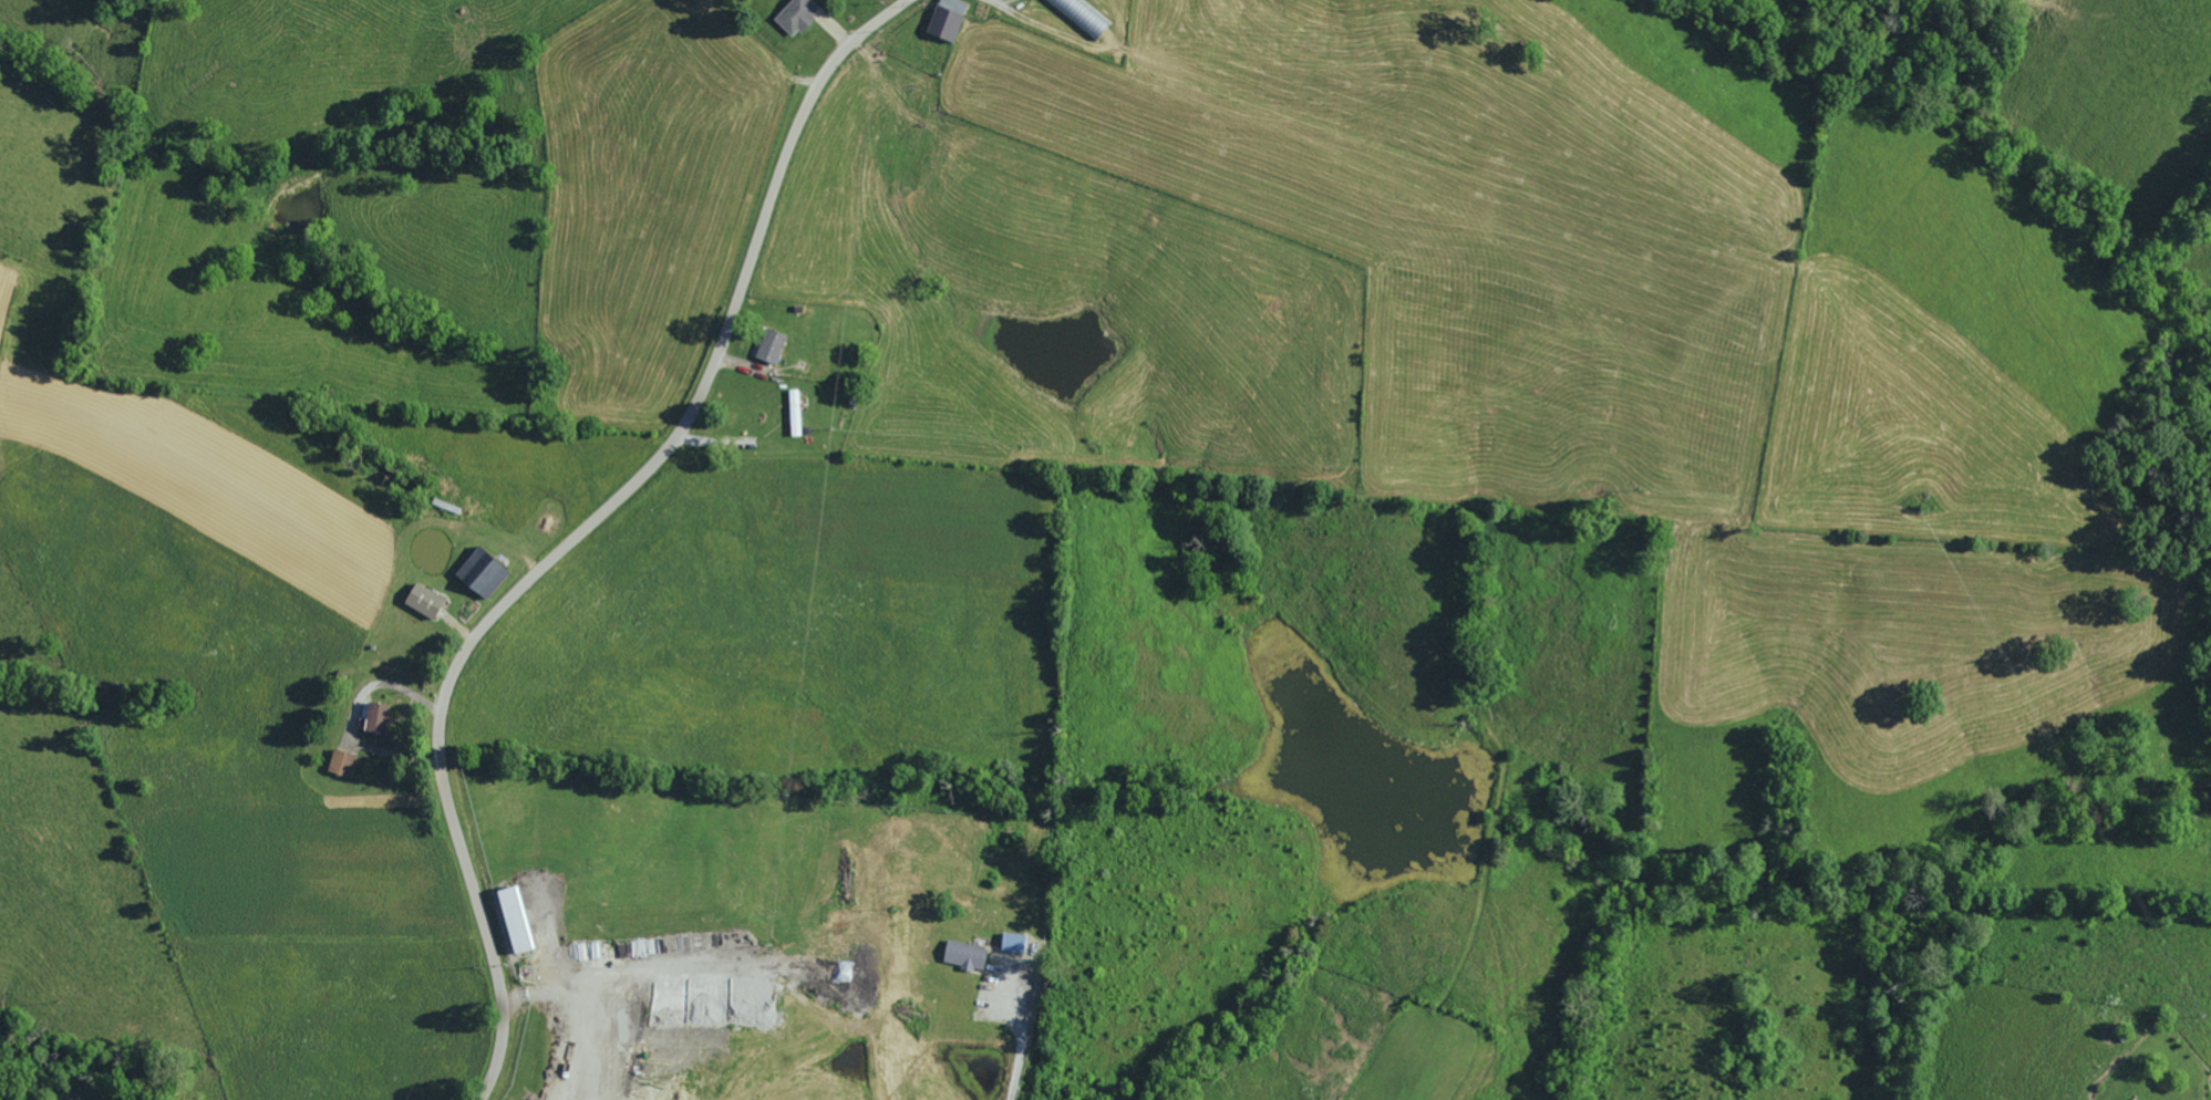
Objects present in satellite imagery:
building: (793, 14)
building: (950, 19)
road: (835, 28)
building: (768, 345)
building: (794, 412)
road: (561, 532)
building: (484, 565)
building: (430, 600)
road: (455, 620)
road: (379, 682)
building: (382, 717)
road: (354, 747)
building: (344, 761)
building: (520, 919)
building: (1011, 942)
building: (965, 952)

